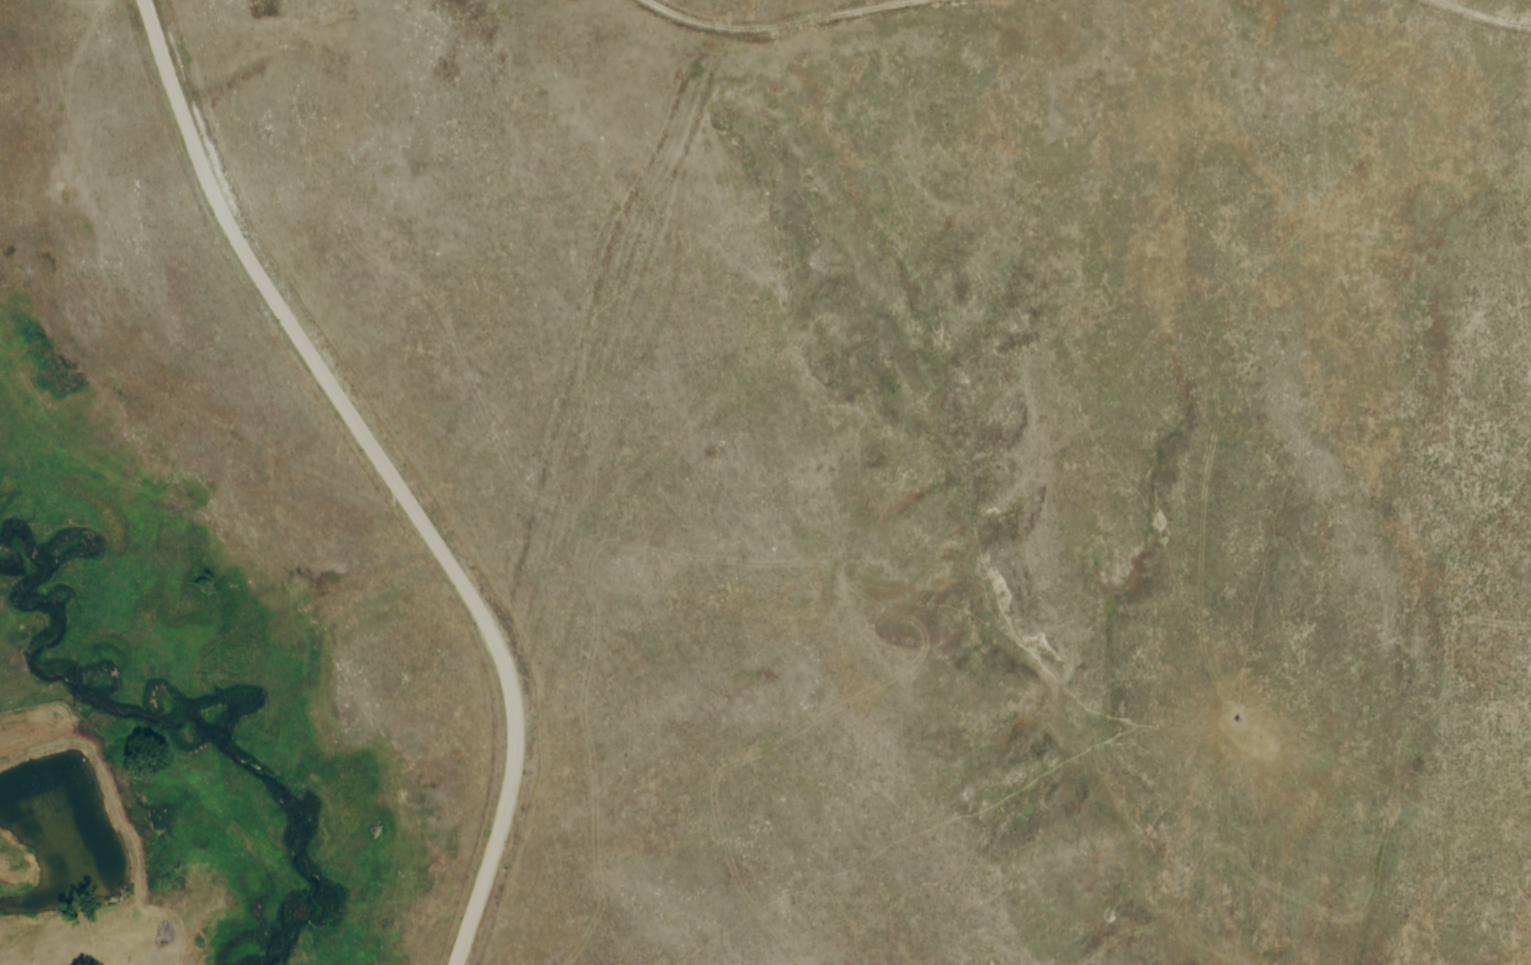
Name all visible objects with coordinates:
road: (391, 472)

